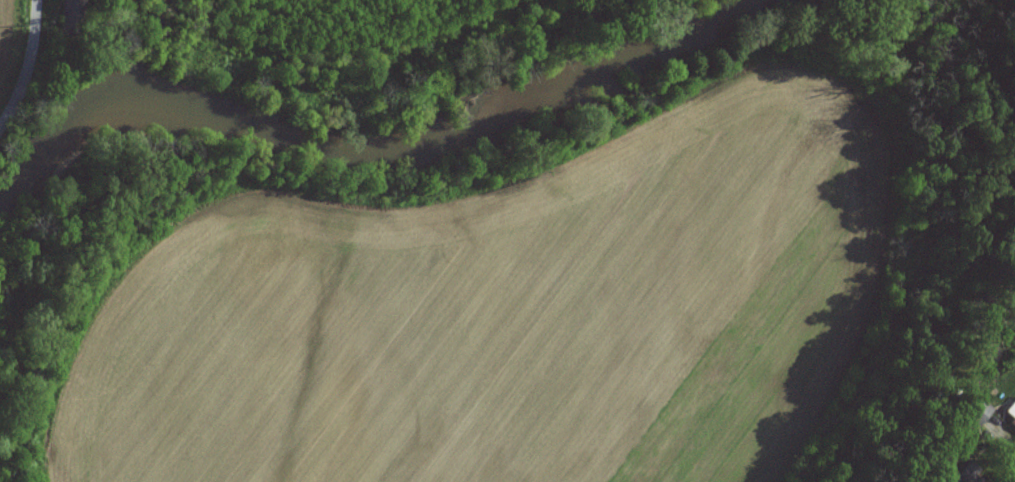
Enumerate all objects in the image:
road: (28, 65)
river: (361, 153)
building: (971, 409)
building: (1010, 410)
road: (1002, 436)

